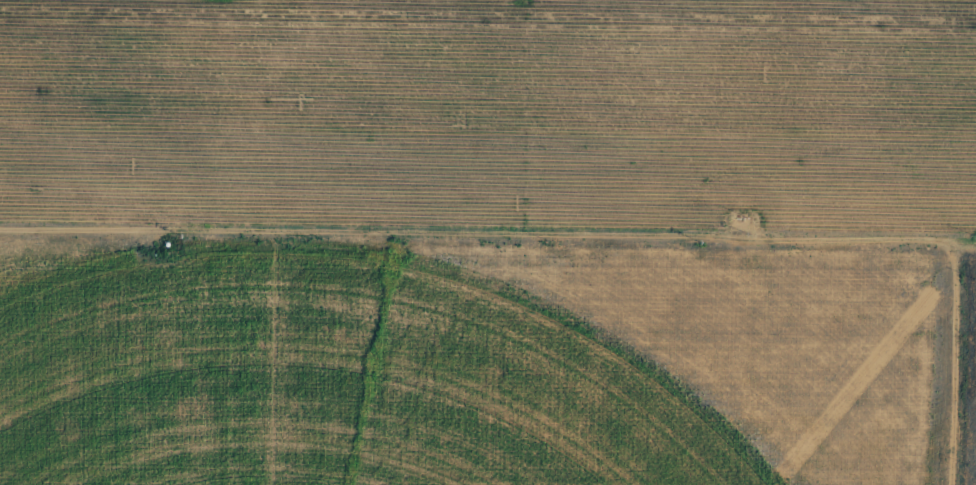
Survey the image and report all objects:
road: (488, 240)

